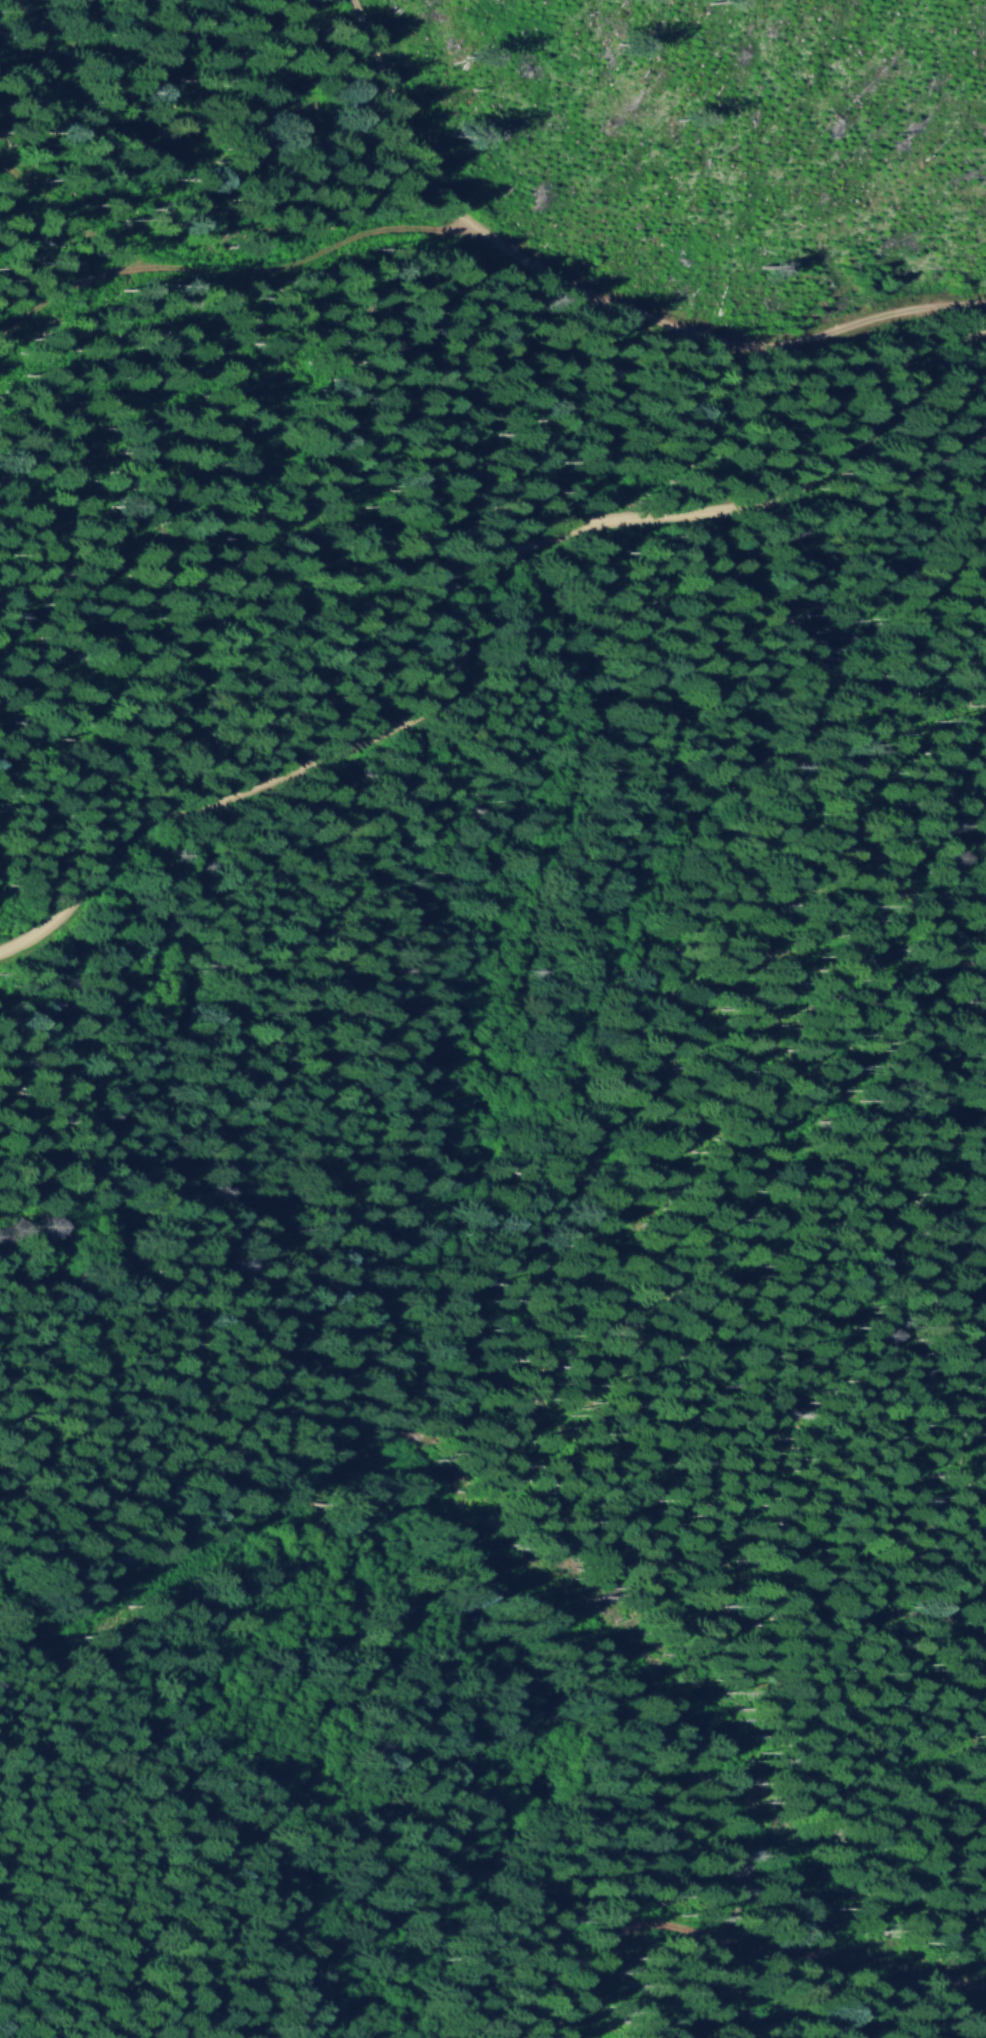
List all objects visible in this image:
road: (231, 275)
road: (75, 286)
road: (596, 296)
road: (471, 612)
road: (481, 1556)
road: (744, 1941)

